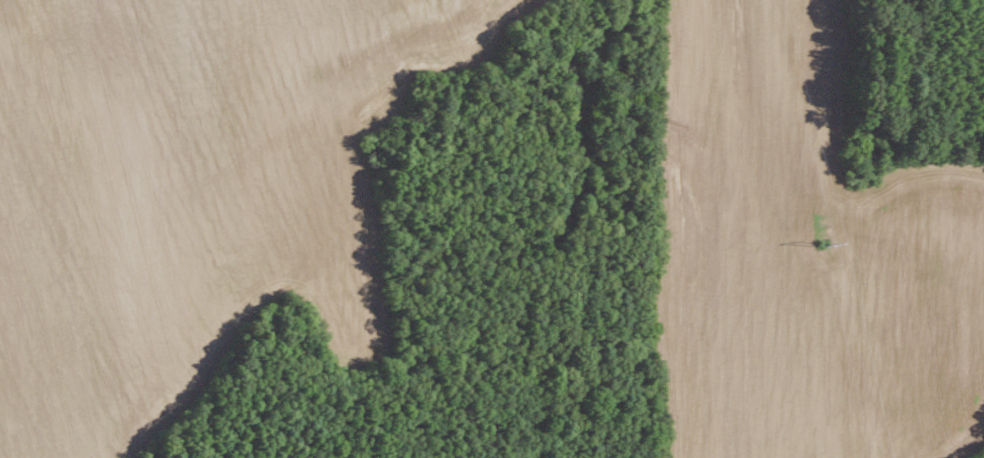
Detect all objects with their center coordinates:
power tower: (826, 243)

